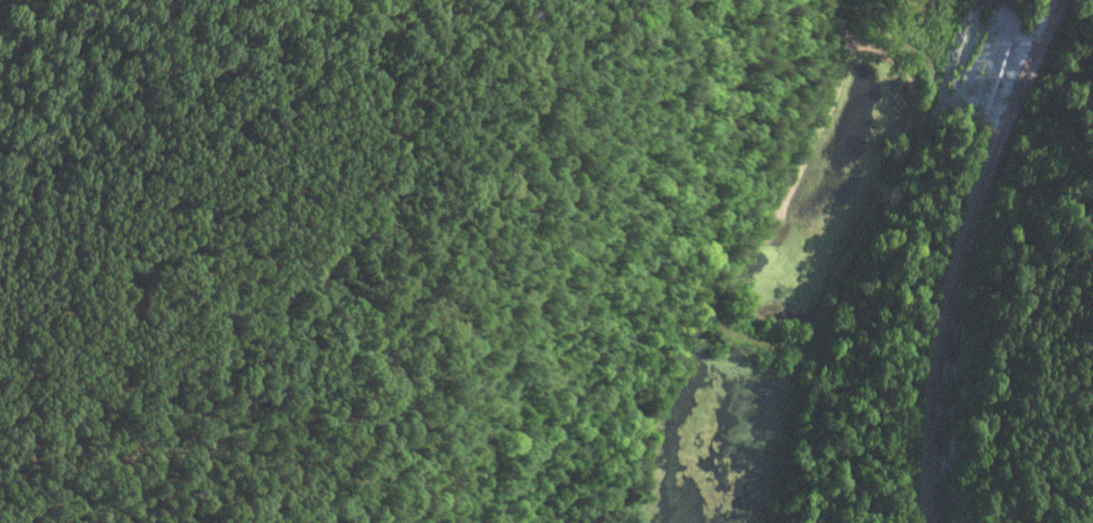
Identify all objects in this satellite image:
railway: (926, 253)

